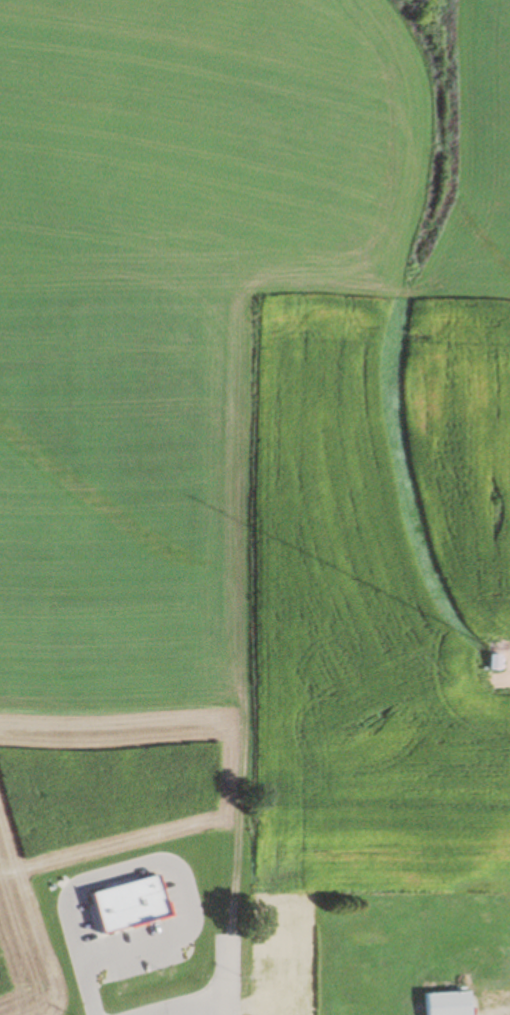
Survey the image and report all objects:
building: (493, 661)
road: (169, 860)
road: (227, 975)
road: (84, 990)
building: (442, 1003)
road: (217, 1013)

